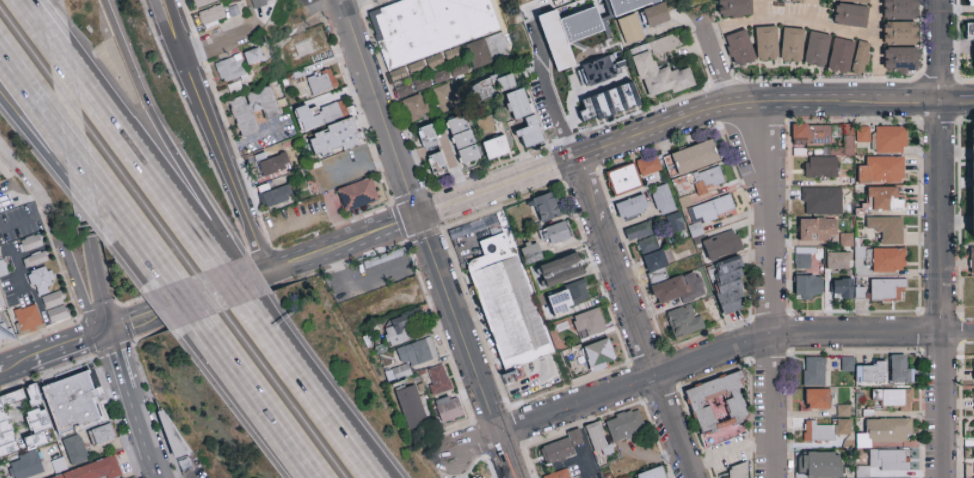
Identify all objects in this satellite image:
building: (234, 0)
road: (341, 0)
building: (554, 0)
building: (794, 0)
building: (854, 1)
building: (201, 3)
building: (258, 3)
building: (970, 3)
building: (734, 8)
building: (899, 10)
building: (212, 14)
building: (655, 15)
building: (850, 16)
road: (29, 20)
road: (790, 24)
building: (430, 26)
road: (178, 28)
building: (630, 29)
road: (162, 31)
building: (899, 33)
building: (970, 34)
building: (766, 43)
building: (791, 45)
road: (213, 47)
building: (308, 47)
building: (739, 47)
building: (815, 49)
road: (876, 50)
building: (253, 56)
building: (840, 56)
building: (859, 60)
building: (900, 60)
road: (58, 63)
building: (468, 63)
road: (715, 63)
building: (229, 69)
building: (645, 69)
building: (596, 70)
building: (321, 81)
road: (29, 84)
building: (492, 87)
road: (955, 97)
building: (444, 98)
road: (854, 101)
road: (751, 105)
building: (415, 107)
building: (253, 109)
road: (377, 109)
building: (597, 109)
building: (331, 112)
road: (551, 116)
building: (523, 117)
road: (651, 130)
road: (155, 133)
building: (812, 134)
building: (861, 134)
building: (427, 137)
building: (334, 139)
building: (462, 140)
building: (890, 140)
building: (844, 142)
road: (31, 143)
road: (74, 144)
building: (495, 148)
building: (364, 156)
building: (694, 157)
building: (437, 164)
road: (224, 165)
building: (273, 165)
road: (751, 165)
road: (771, 165)
building: (648, 166)
road: (77, 167)
building: (821, 167)
building: (881, 170)
road: (141, 176)
building: (623, 180)
building: (708, 180)
building: (972, 186)
road: (494, 189)
building: (275, 194)
building: (357, 194)
building: (663, 199)
building: (884, 199)
building: (822, 201)
road: (81, 202)
building: (631, 206)
building: (547, 207)
building: (713, 209)
traffic signals: (416, 218)
road: (25, 220)
building: (676, 221)
road: (132, 224)
building: (466, 229)
building: (816, 230)
building: (888, 230)
building: (554, 233)
road: (58, 235)
road: (940, 238)
building: (845, 239)
building: (29, 243)
building: (647, 245)
building: (722, 245)
road: (136, 253)
building: (530, 253)
building: (384, 257)
building: (804, 257)
building: (35, 259)
building: (971, 259)
building: (838, 260)
building: (888, 260)
building: (560, 270)
road: (261, 274)
road: (244, 280)
building: (40, 281)
road: (356, 281)
road: (226, 286)
building: (729, 286)
building: (808, 286)
building: (678, 288)
building: (845, 289)
building: (887, 290)
building: (580, 291)
road: (188, 302)
building: (509, 302)
building: (2, 303)
building: (560, 303)
building: (56, 307)
building: (28, 318)
road: (631, 319)
building: (685, 321)
building: (588, 323)
building: (397, 330)
building: (8, 334)
traffic signals: (107, 334)
road: (67, 348)
road: (282, 348)
road: (464, 348)
road: (273, 351)
road: (771, 351)
building: (598, 355)
road: (703, 357)
building: (411, 358)
road: (116, 363)
road: (15, 365)
road: (2, 369)
building: (899, 369)
building: (865, 370)
building: (814, 371)
building: (438, 380)
road: (253, 390)
building: (76, 399)
building: (818, 399)
building: (893, 399)
building: (717, 403)
building: (411, 406)
building: (448, 408)
building: (844, 411)
building: (24, 420)
building: (625, 426)
building: (825, 430)
building: (887, 430)
building: (102, 434)
building: (171, 434)
road: (140, 435)
road: (336, 437)
building: (597, 438)
road: (585, 444)
building: (560, 448)
building: (75, 450)
road: (727, 450)
building: (884, 462)
building: (25, 465)
building: (189, 465)
building: (818, 465)
road: (311, 468)
building: (94, 470)
building: (479, 471)
building: (737, 471)
building: (651, 473)
building: (558, 474)
building: (576, 477)
building: (580, 477)

